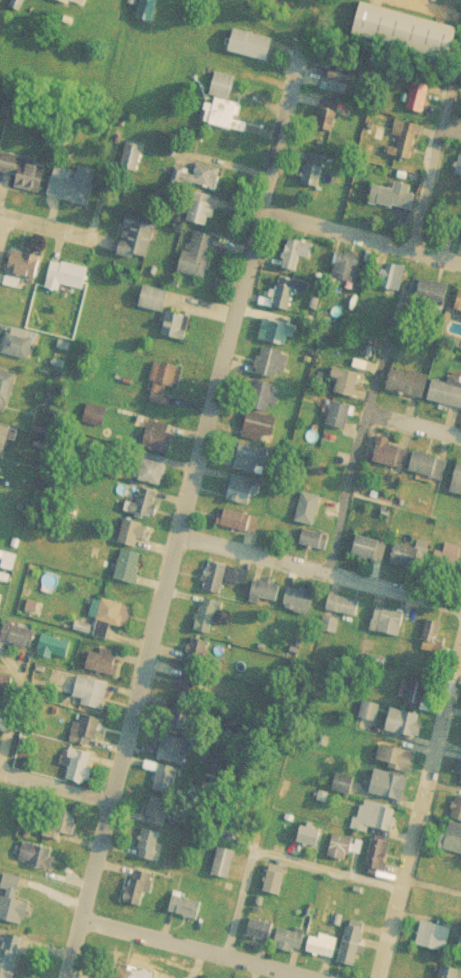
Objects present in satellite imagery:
road: (420, 4)
building: (73, 5)
park: (434, 9)
building: (148, 14)
road: (266, 22)
building: (407, 35)
building: (253, 50)
building: (338, 83)
building: (224, 90)
building: (420, 101)
building: (225, 119)
building: (330, 121)
building: (406, 145)
building: (133, 163)
building: (458, 171)
building: (22, 177)
building: (314, 180)
building: (199, 181)
building: (72, 193)
building: (395, 201)
building: (203, 213)
road: (3, 227)
road: (56, 230)
road: (361, 234)
building: (138, 244)
building: (291, 251)
building: (200, 260)
building: (347, 265)
building: (26, 270)
building: (391, 275)
building: (70, 280)
building: (286, 293)
building: (435, 297)
building: (458, 300)
building: (155, 303)
building: (459, 310)
road: (393, 327)
building: (178, 330)
building: (277, 333)
building: (20, 348)
building: (273, 369)
building: (348, 388)
building: (409, 388)
building: (165, 389)
building: (7, 396)
building: (447, 398)
building: (269, 403)
building: (341, 421)
road: (209, 422)
road: (416, 425)
building: (263, 432)
building: (160, 442)
building: (4, 445)
building: (392, 459)
building: (253, 464)
building: (430, 471)
building: (151, 475)
building: (458, 487)
building: (148, 508)
building: (310, 514)
building: (240, 526)
building: (137, 541)
building: (316, 546)
building: (371, 553)
building: (445, 559)
building: (411, 562)
road: (321, 570)
building: (130, 572)
building: (225, 583)
building: (0, 596)
building: (266, 596)
building: (1, 606)
building: (301, 607)
building: (344, 612)
building: (113, 618)
building: (209, 622)
building: (388, 627)
building: (20, 640)
building: (433, 644)
building: (56, 653)
building: (197, 657)
building: (104, 668)
building: (6, 689)
building: (191, 689)
building: (93, 697)
building: (414, 697)
road: (15, 699)
building: (367, 710)
building: (370, 717)
building: (184, 722)
building: (407, 728)
building: (86, 735)
building: (176, 755)
building: (397, 763)
building: (77, 766)
building: (166, 783)
road: (56, 785)
building: (345, 789)
building: (390, 790)
road: (418, 810)
building: (457, 815)
building: (159, 817)
building: (377, 822)
building: (60, 829)
building: (311, 841)
building: (453, 844)
building: (151, 850)
building: (342, 852)
road: (275, 855)
building: (379, 860)
building: (40, 862)
building: (226, 868)
building: (275, 887)
road: (91, 888)
building: (140, 893)
building: (15, 907)
building: (442, 910)
building: (186, 912)
building: (260, 935)
building: (459, 940)
building: (434, 942)
building: (291, 945)
road: (202, 946)
building: (355, 949)
building: (323, 951)
building: (11, 959)
building: (132, 975)
building: (450, 975)

